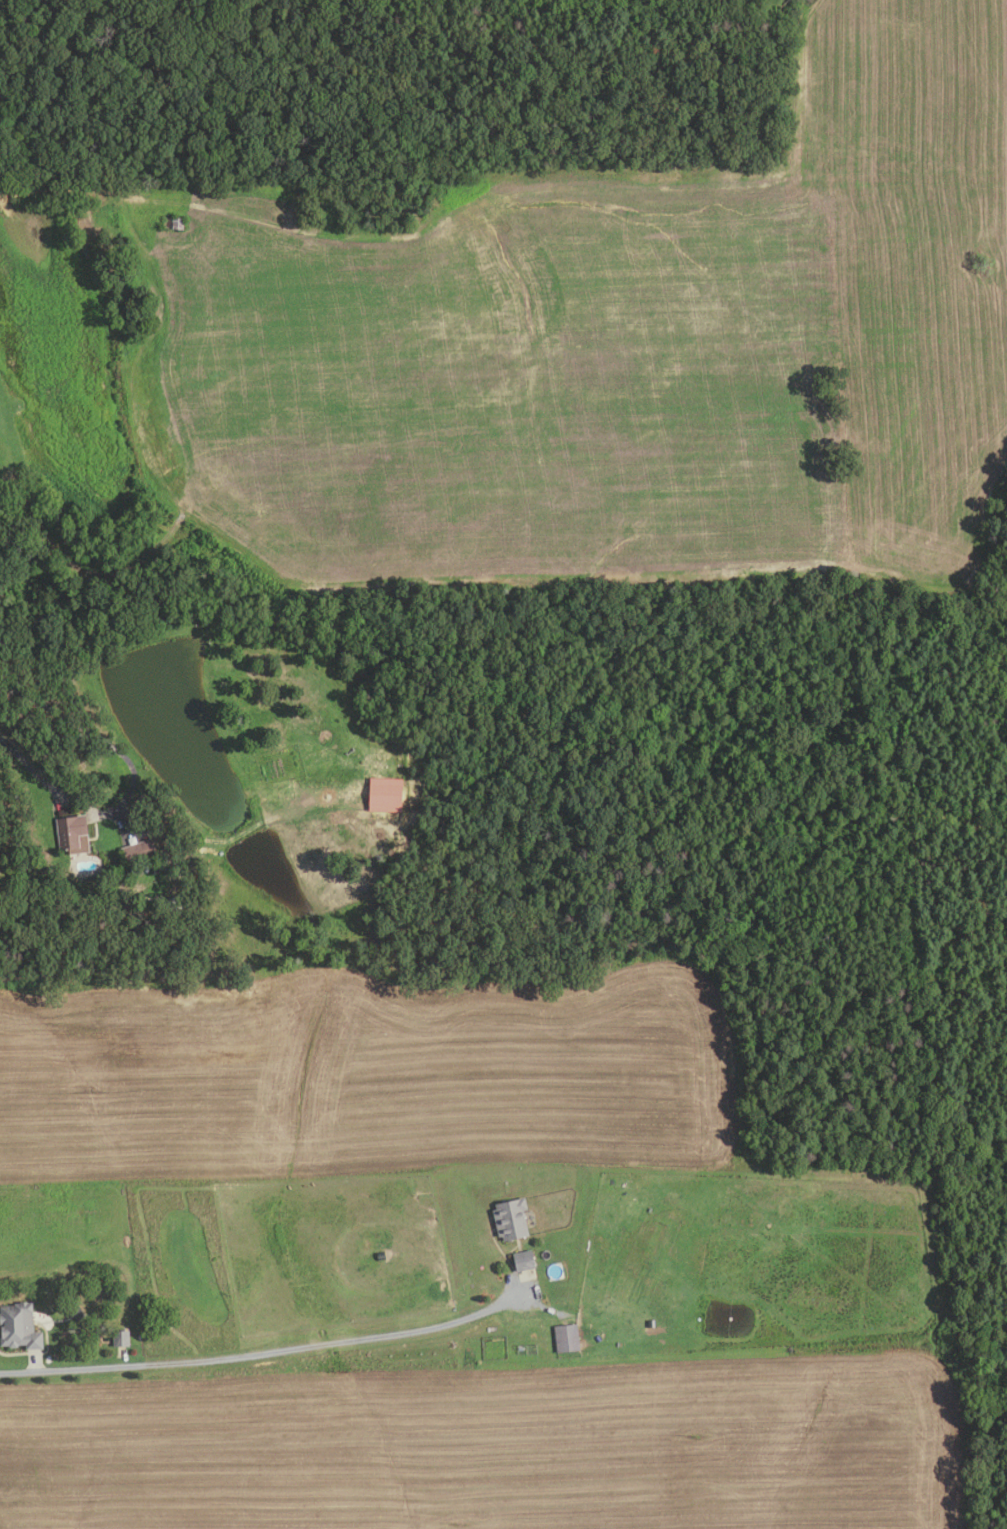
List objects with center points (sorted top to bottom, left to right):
building: (172, 223)
road: (136, 779)
building: (385, 795)
building: (70, 831)
building: (138, 852)
building: (161, 864)
building: (173, 903)
building: (511, 1219)
building: (523, 1260)
building: (19, 1326)
building: (666, 1326)
building: (120, 1337)
building: (566, 1337)
building: (522, 1349)
road: (272, 1350)
road: (36, 1362)
road: (17, 1372)

